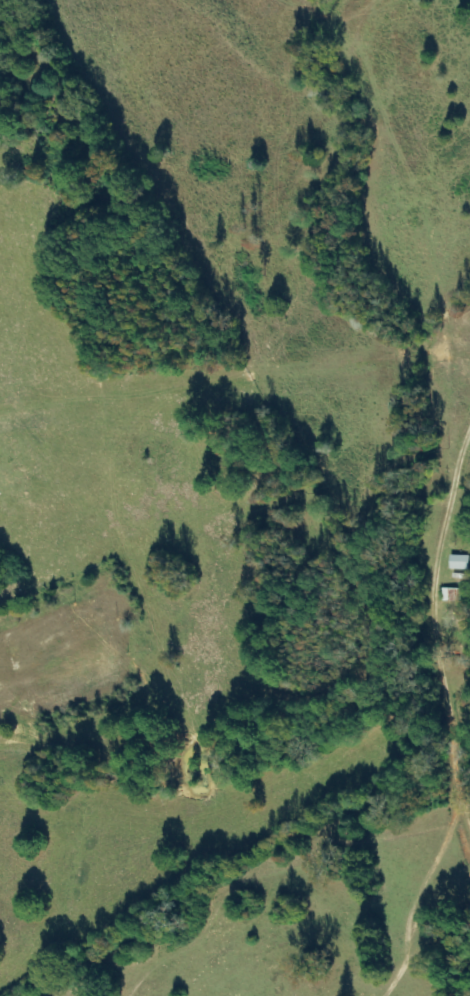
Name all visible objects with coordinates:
building: (460, 562)

